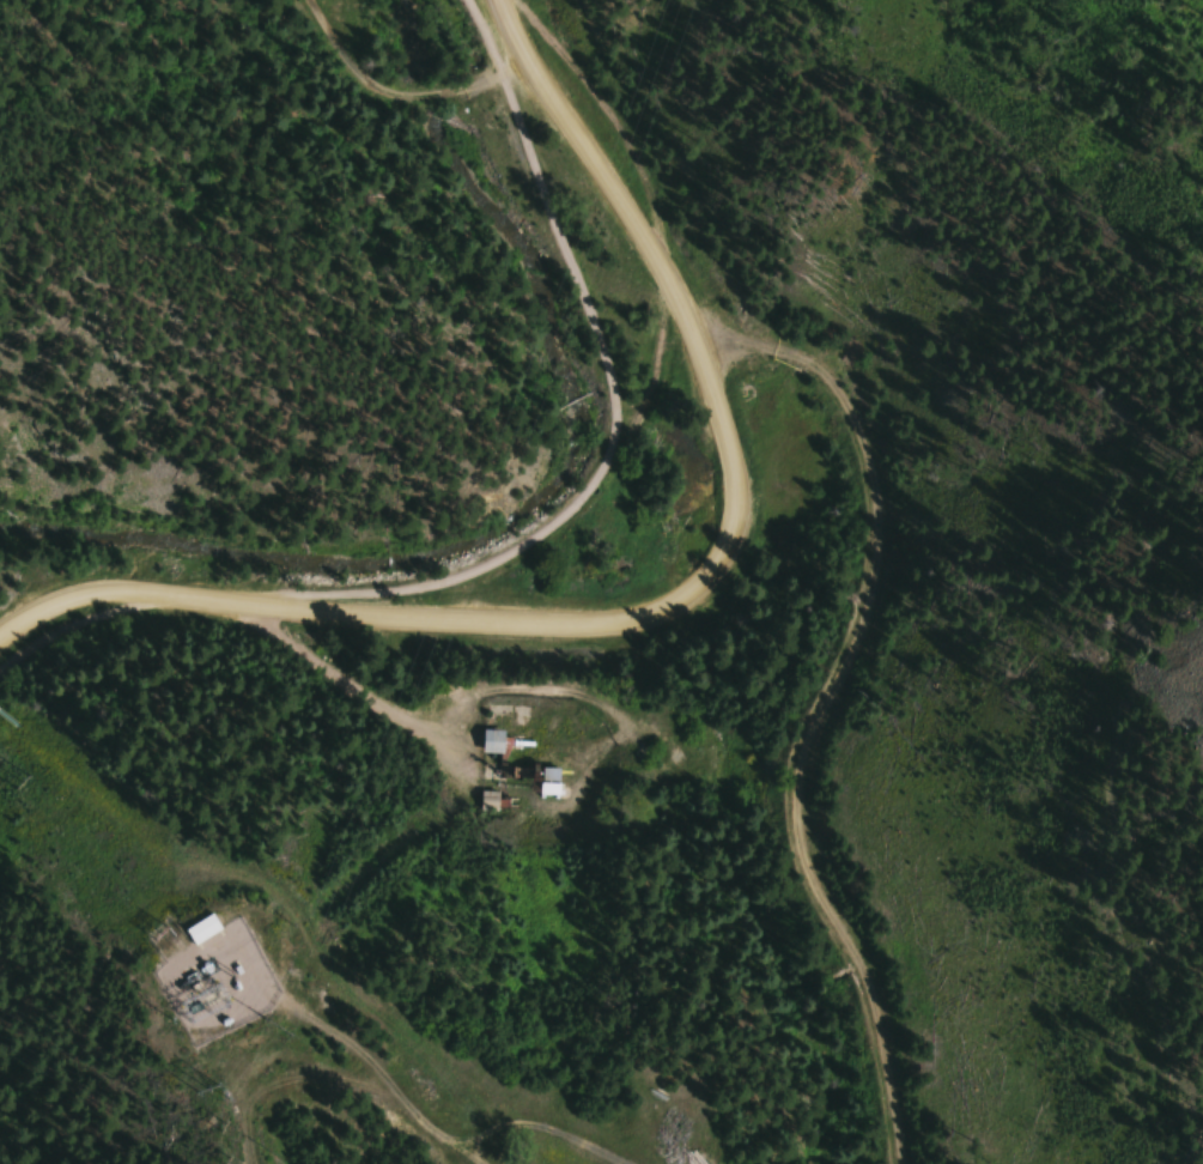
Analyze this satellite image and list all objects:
road: (481, 79)
road: (545, 525)
road: (680, 616)
building: (490, 741)
building: (547, 782)
building: (199, 933)
power substation: (213, 968)

